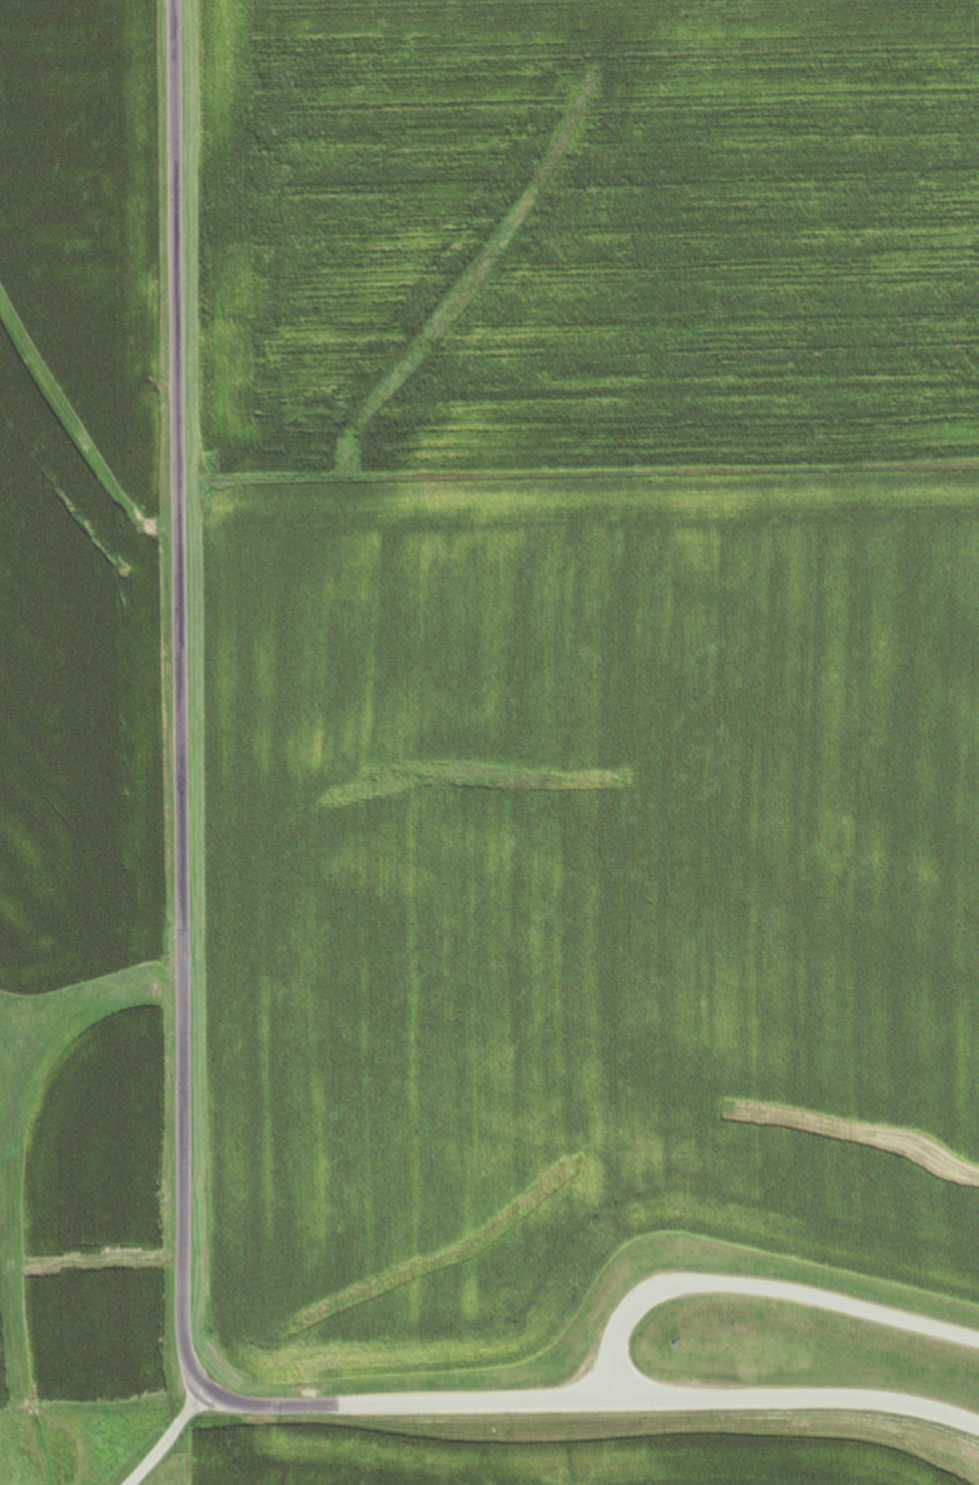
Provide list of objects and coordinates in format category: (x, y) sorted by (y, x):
road: (179, 1089)
road: (757, 1289)
road: (162, 1439)

